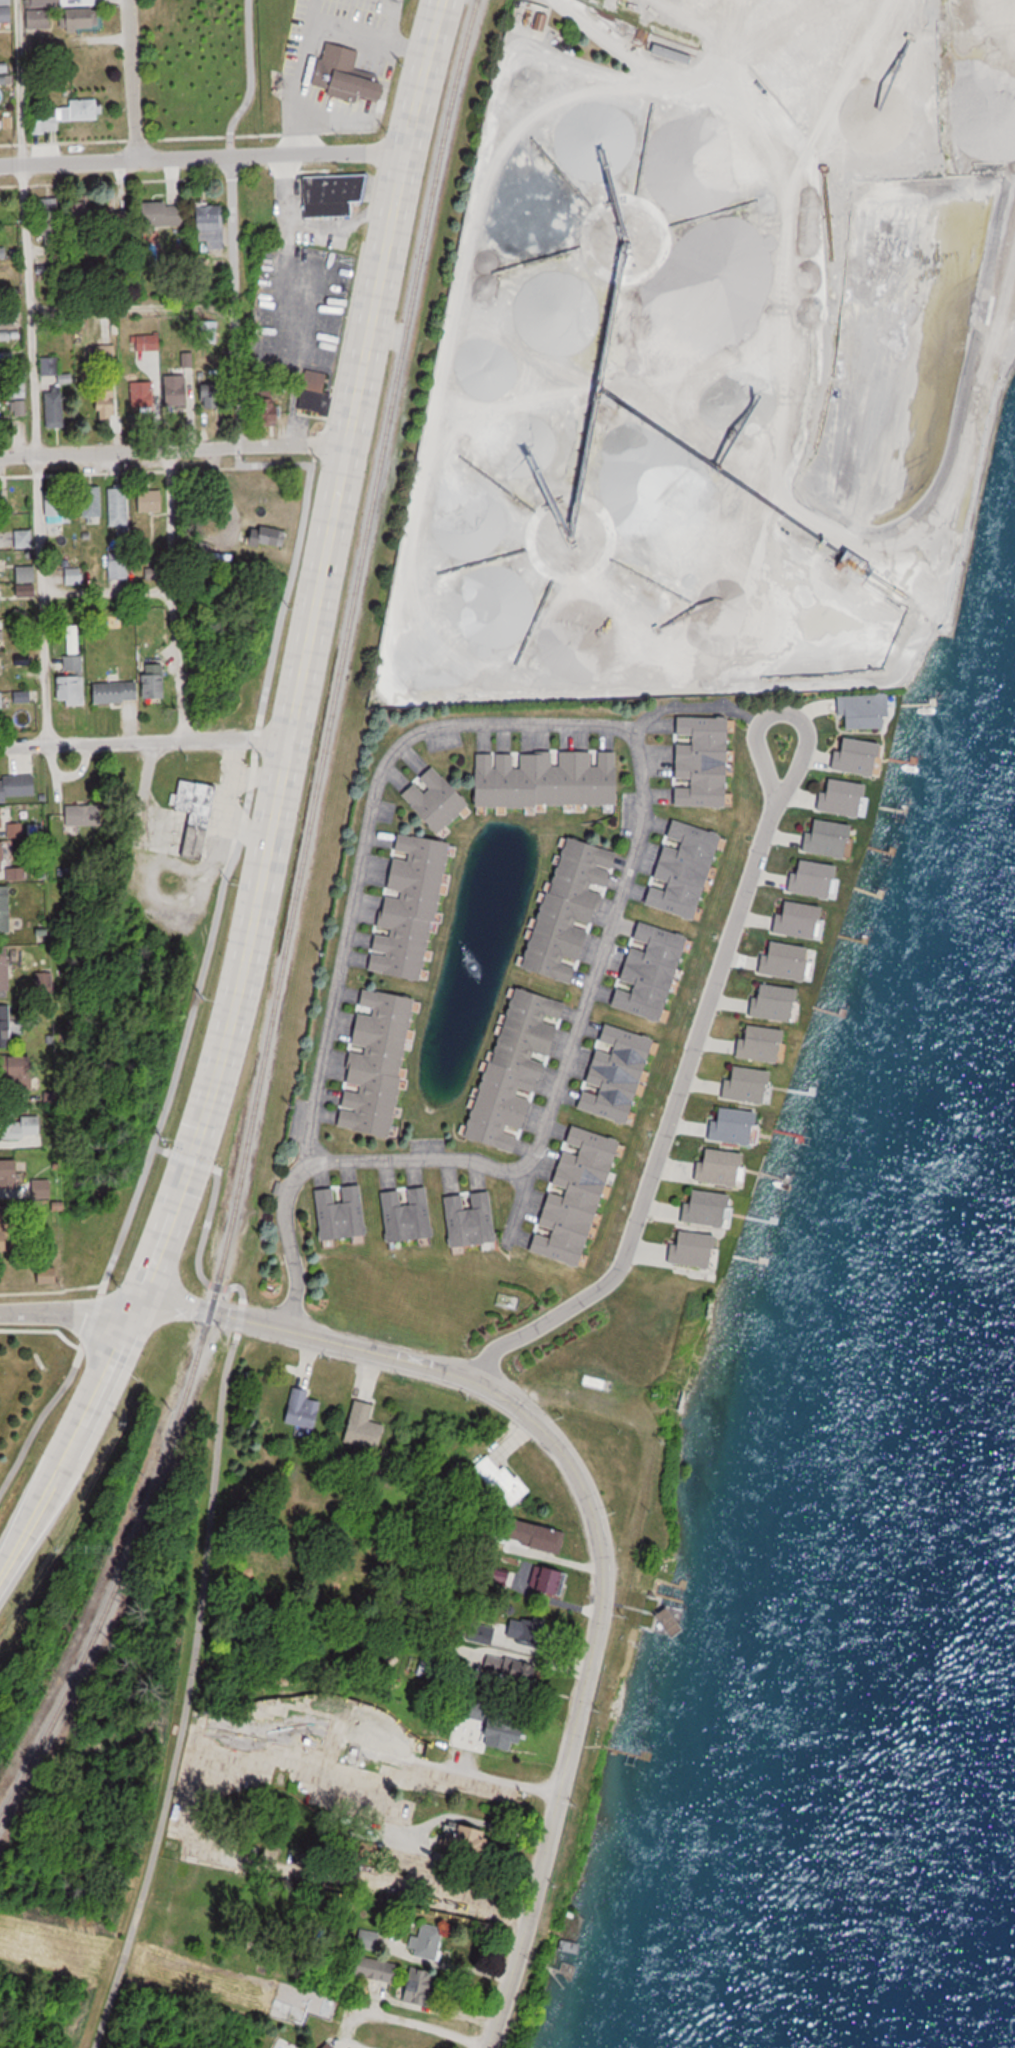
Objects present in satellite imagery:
building: (6, 2)
building: (45, 3)
building: (5, 13)
building: (86, 20)
building: (41, 21)
road: (370, 41)
park: (210, 73)
road: (299, 76)
road: (134, 79)
building: (343, 84)
building: (83, 111)
road: (202, 157)
building: (334, 194)
building: (166, 213)
building: (210, 220)
building: (3, 252)
road: (32, 372)
building: (175, 390)
building: (210, 394)
building: (54, 395)
building: (142, 396)
road: (173, 451)
building: (150, 501)
building: (58, 504)
building: (118, 507)
building: (92, 508)
building: (1, 568)
building: (119, 572)
building: (27, 573)
building: (73, 576)
road: (173, 596)
road: (108, 599)
road: (277, 628)
building: (0, 633)
building: (75, 642)
building: (24, 663)
building: (1, 664)
building: (73, 680)
building: (158, 681)
building: (117, 691)
building: (25, 697)
building: (2, 700)
road: (145, 741)
building: (688, 761)
road: (255, 778)
building: (17, 787)
road: (276, 804)
building: (198, 814)
building: (87, 816)
building: (4, 818)
road: (245, 836)
road: (372, 837)
building: (3, 856)
building: (18, 873)
building: (684, 874)
road: (187, 880)
building: (6, 910)
railway: (291, 923)
building: (654, 969)
building: (6, 970)
road: (718, 993)
building: (13, 1024)
building: (617, 1078)
road: (544, 1137)
building: (11, 1173)
building: (43, 1188)
building: (575, 1197)
building: (10, 1223)
road: (190, 1306)
road: (114, 1308)
road: (46, 1311)
road: (50, 1404)
road: (593, 1579)
road: (188, 1687)
power tower: (36, 1798)
power tower: (8, 1850)
road: (394, 2020)

